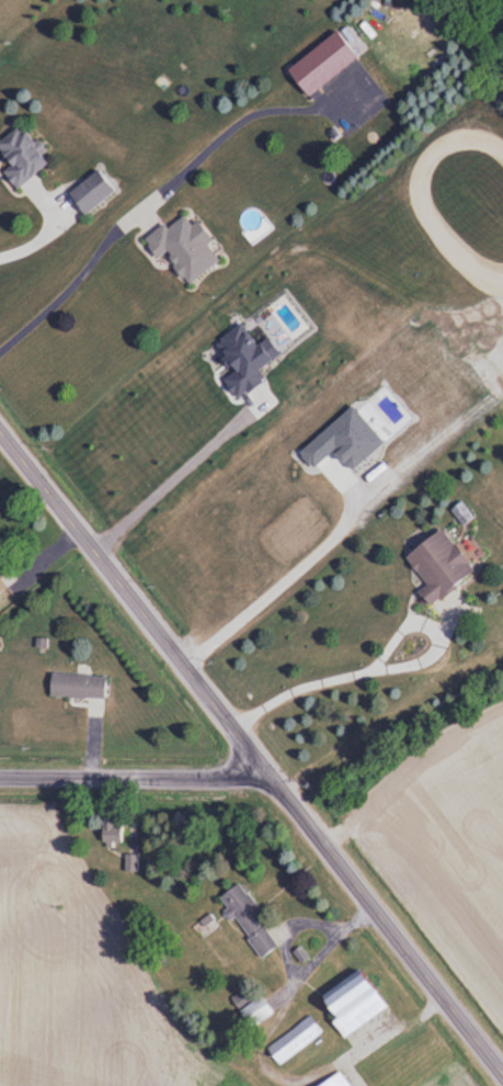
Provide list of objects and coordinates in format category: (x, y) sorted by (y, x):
building: (311, 67)
building: (16, 157)
building: (87, 192)
road: (43, 237)
building: (180, 248)
road: (70, 284)
road: (174, 472)
building: (434, 566)
building: (2, 585)
road: (373, 663)
building: (75, 687)
road: (252, 754)
road: (133, 781)
building: (108, 832)
building: (244, 920)
building: (348, 1005)
building: (253, 1013)
building: (293, 1041)
building: (334, 1081)

